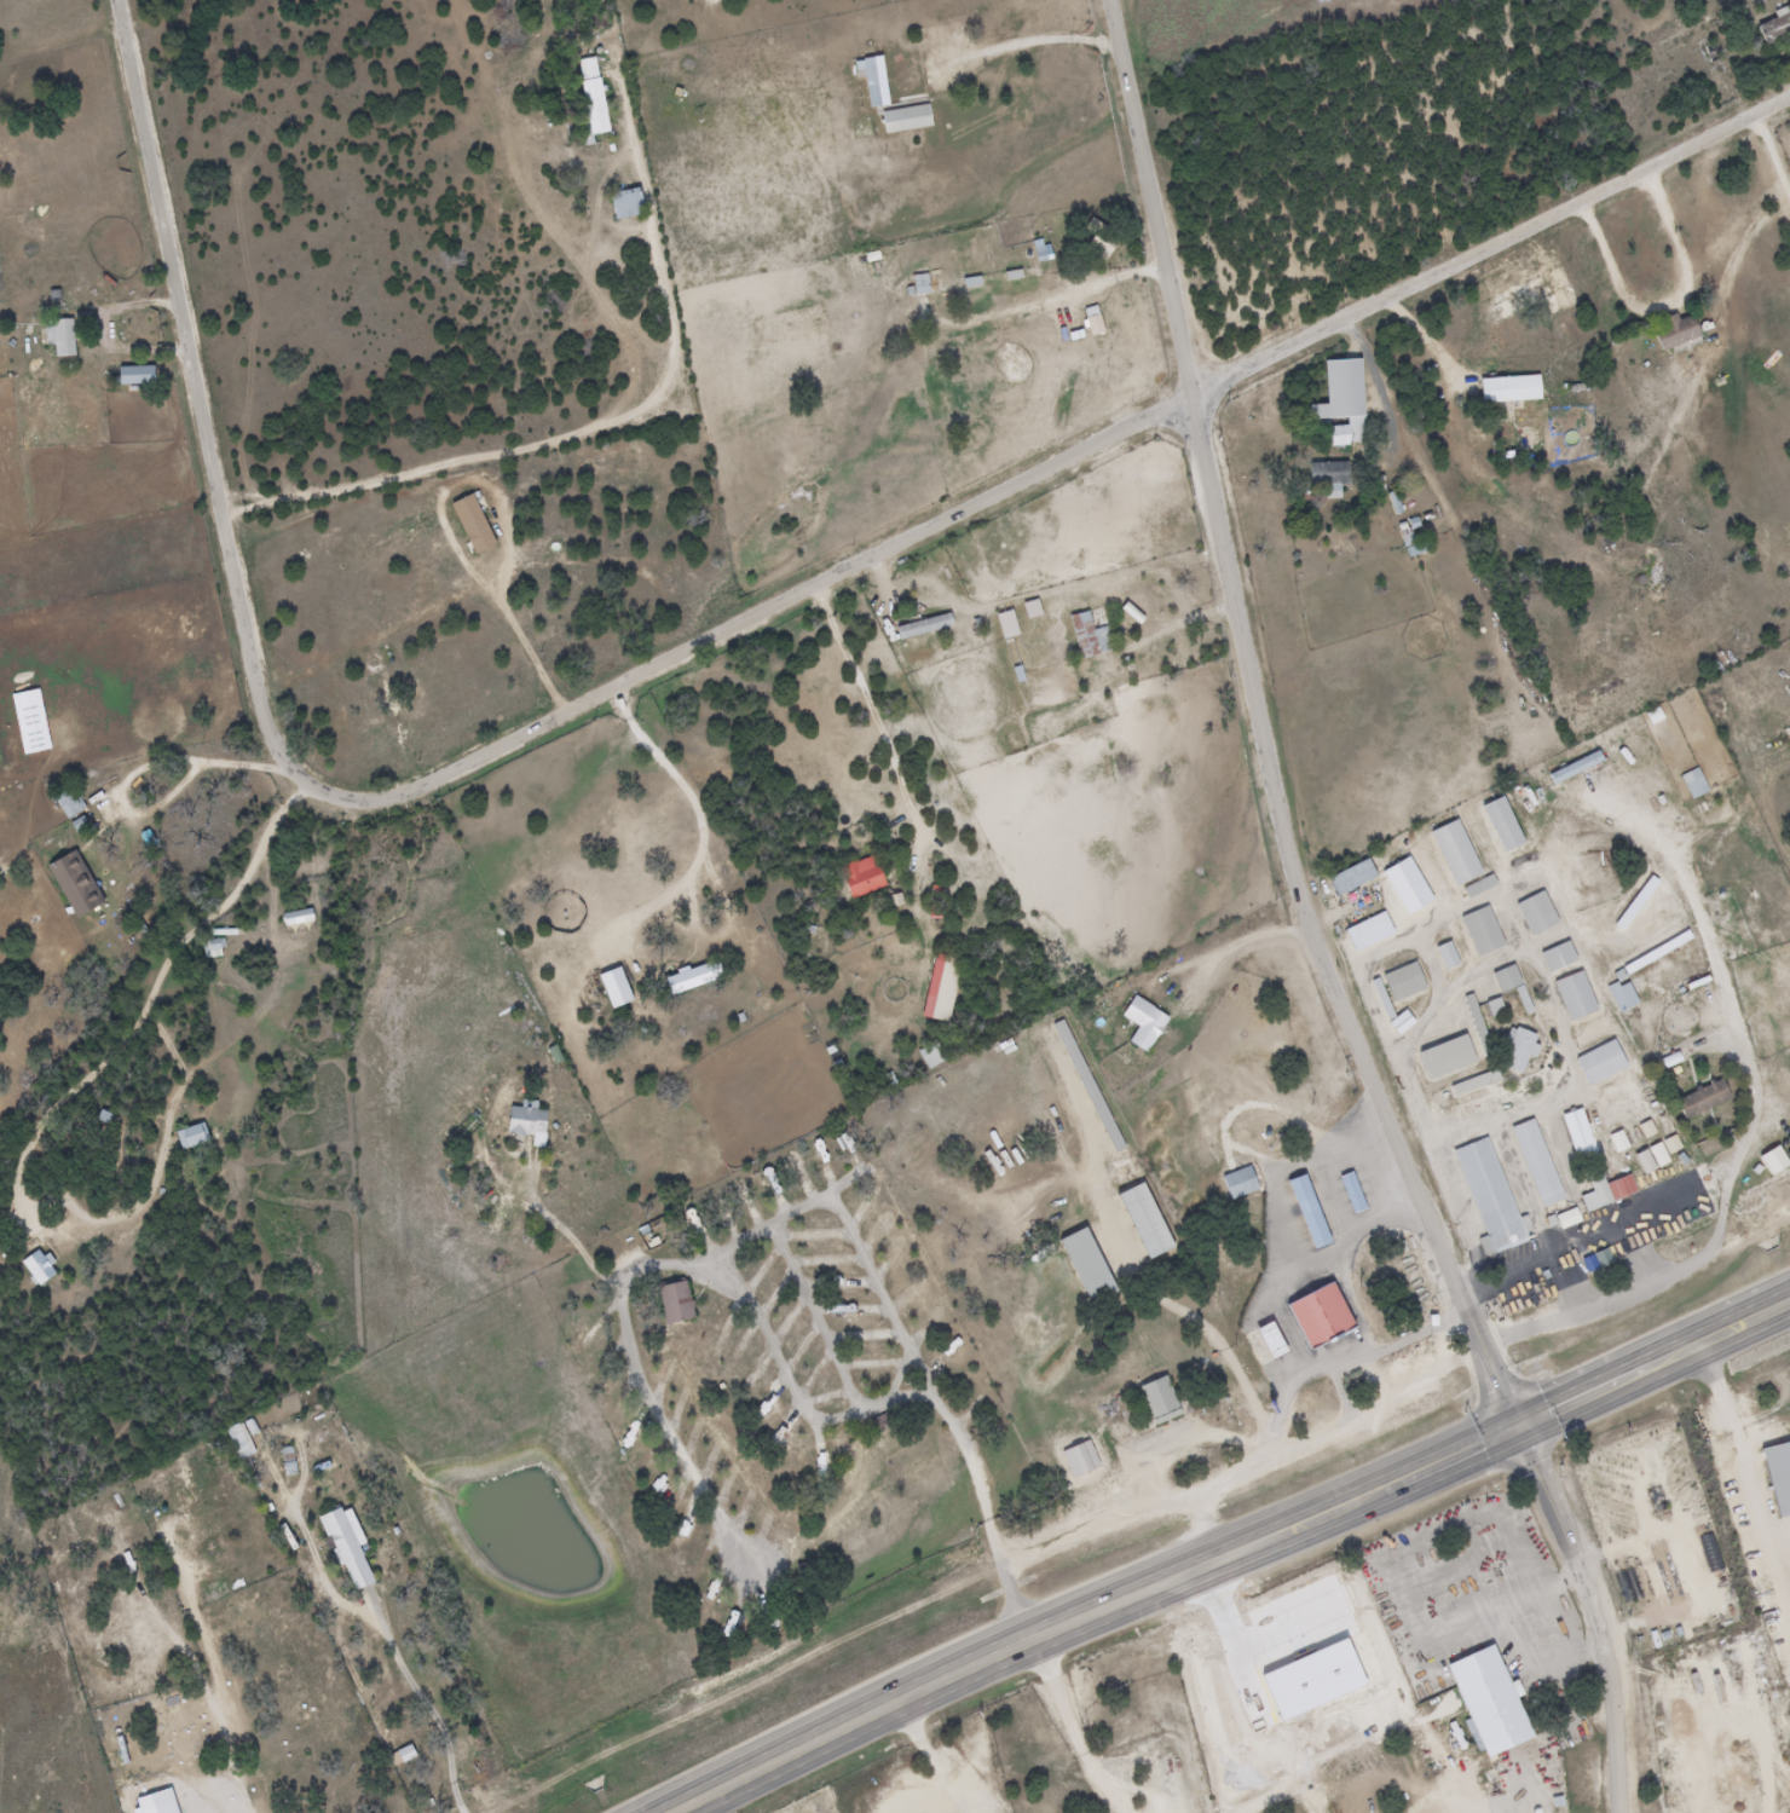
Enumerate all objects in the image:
building: (1658, 0)
road: (867, 4)
building: (1773, 28)
building: (868, 85)
building: (589, 97)
building: (901, 120)
building: (624, 203)
building: (1097, 244)
building: (918, 284)
building: (54, 302)
building: (1671, 331)
building: (60, 337)
building: (131, 376)
building: (1506, 389)
building: (1338, 403)
road: (581, 439)
building: (1327, 477)
building: (1392, 502)
building: (469, 525)
building: (1407, 538)
building: (922, 627)
building: (1087, 636)
road: (688, 649)
building: (427, 718)
road: (1259, 731)
building: (1691, 784)
building: (67, 803)
building: (1499, 825)
building: (1453, 853)
building: (858, 878)
building: (1347, 878)
building: (73, 885)
building: (1534, 914)
building: (1479, 931)
building: (299, 935)
building: (209, 949)
building: (1444, 957)
building: (1555, 958)
building: (1503, 980)
building: (685, 981)
building: (1401, 982)
building: (939, 989)
building: (1571, 997)
building: (1619, 997)
building: (1492, 1010)
building: (1141, 1024)
building: (1476, 1027)
building: (1514, 1050)
building: (929, 1056)
building: (1443, 1057)
building: (1598, 1063)
building: (1472, 1082)
building: (1698, 1099)
building: (522, 1121)
building: (1576, 1134)
building: (186, 1138)
building: (1534, 1162)
building: (1236, 1184)
building: (1607, 1189)
building: (1349, 1194)
building: (740, 1195)
building: (1488, 1196)
building: (1304, 1213)
building: (1141, 1223)
building: (1084, 1266)
building: (35, 1269)
building: (670, 1303)
building: (1330, 1323)
building: (1264, 1344)
building: (1280, 1347)
gas station: (1280, 1347)
building: (1156, 1402)
road: (1553, 1414)
traffic signals: (1515, 1432)
building: (1082, 1460)
road: (1750, 1470)
building: (1777, 1476)
building: (345, 1547)
road: (1590, 1616)
road: (993, 1661)
building: (1499, 1710)
building: (403, 1754)

